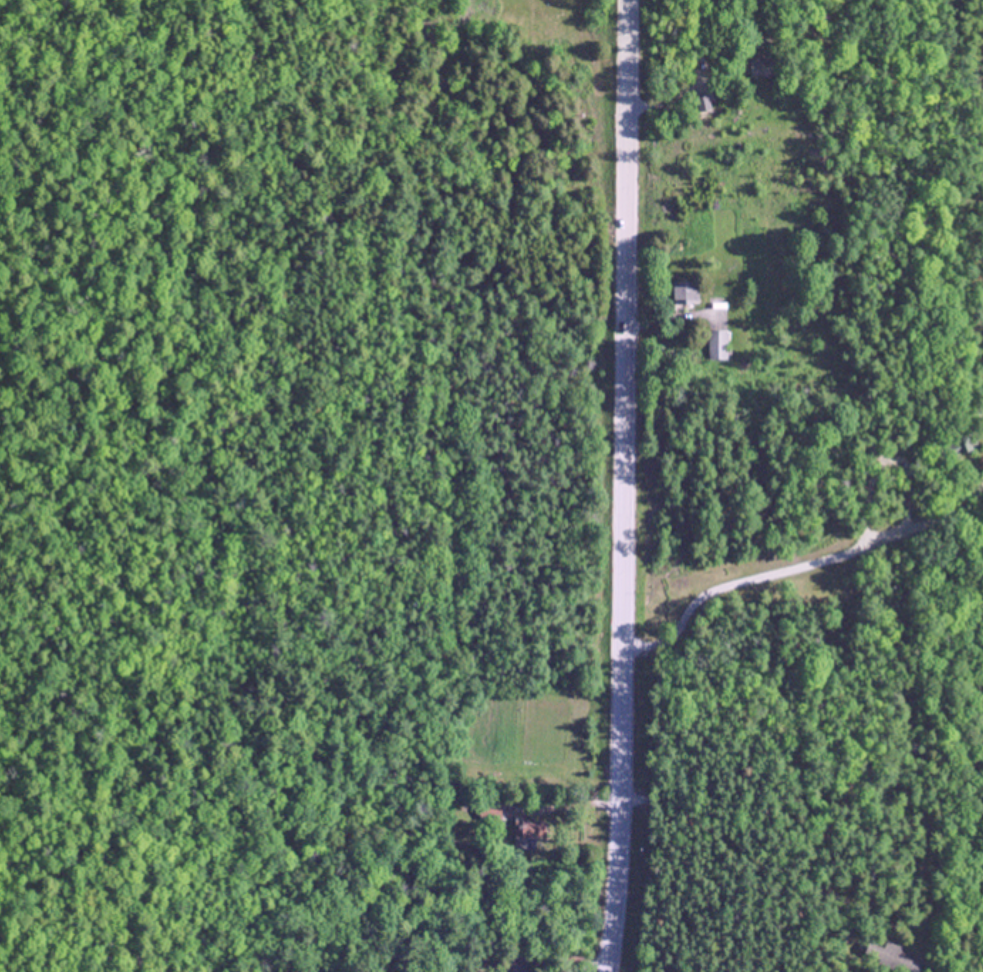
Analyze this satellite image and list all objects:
building: (758, 64)
building: (684, 293)
building: (718, 345)
building: (962, 443)
road: (624, 486)
road: (754, 575)
building: (528, 828)
road: (700, 832)
building: (897, 958)

